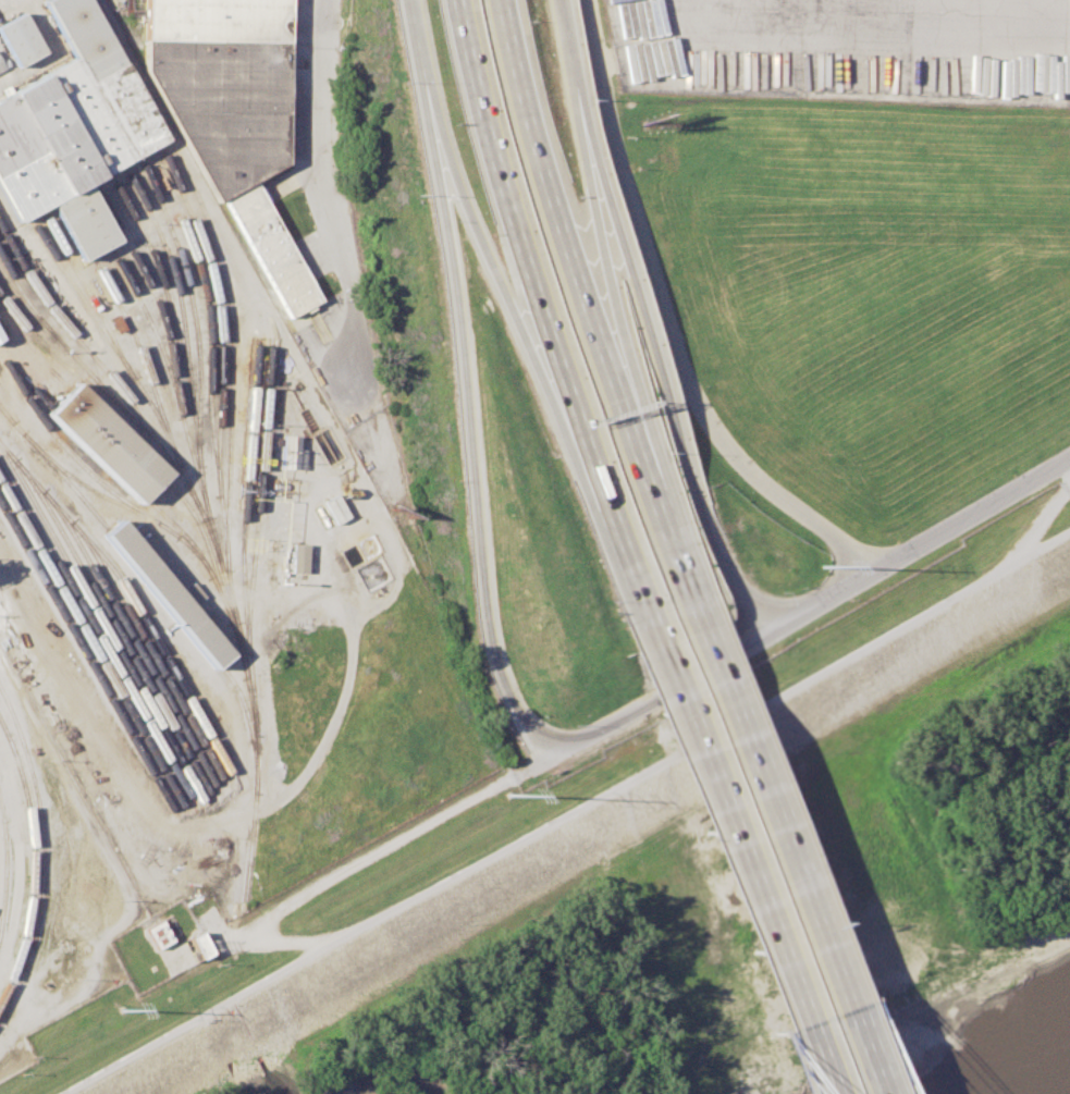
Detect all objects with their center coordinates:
railway: (144, 1)
road: (847, 10)
road: (413, 32)
building: (19, 39)
road: (629, 41)
building: (3, 63)
railway: (118, 72)
railway: (96, 77)
railway: (96, 116)
building: (232, 119)
railway: (82, 123)
building: (72, 131)
railway: (64, 133)
railway: (175, 149)
road: (325, 151)
railway: (66, 169)
railway: (21, 171)
railway: (49, 177)
railway: (14, 190)
road: (556, 217)
road: (591, 222)
road: (493, 275)
railway: (162, 285)
railway: (19, 288)
railway: (86, 294)
railway: (181, 309)
road: (545, 309)
road: (666, 321)
road: (638, 324)
railway: (152, 328)
railway: (168, 342)
railway: (63, 347)
railway: (85, 349)
railway: (219, 352)
railway: (209, 355)
railway: (140, 357)
railway: (124, 364)
railway: (24, 380)
railway: (60, 380)
railway: (199, 385)
railway: (5, 414)
road: (468, 417)
railway: (131, 418)
railway: (116, 434)
building: (107, 443)
railway: (98, 453)
building: (294, 454)
railway: (73, 458)
railway: (255, 500)
road: (662, 515)
railway: (226, 524)
railway: (165, 529)
railway: (182, 533)
railway: (206, 546)
road: (913, 549)
building: (297, 557)
railway: (152, 589)
building: (162, 589)
railway: (128, 594)
railway: (100, 620)
railway: (113, 624)
railway: (245, 626)
railway: (95, 628)
railway: (130, 636)
railway: (90, 642)
railway: (149, 649)
railway: (85, 657)
road: (650, 700)
road: (706, 737)
railway: (40, 814)
road: (780, 847)
road: (730, 856)
railway: (32, 862)
road: (353, 863)
railway: (7, 866)
building: (156, 934)
building: (198, 945)
road: (200, 1015)

